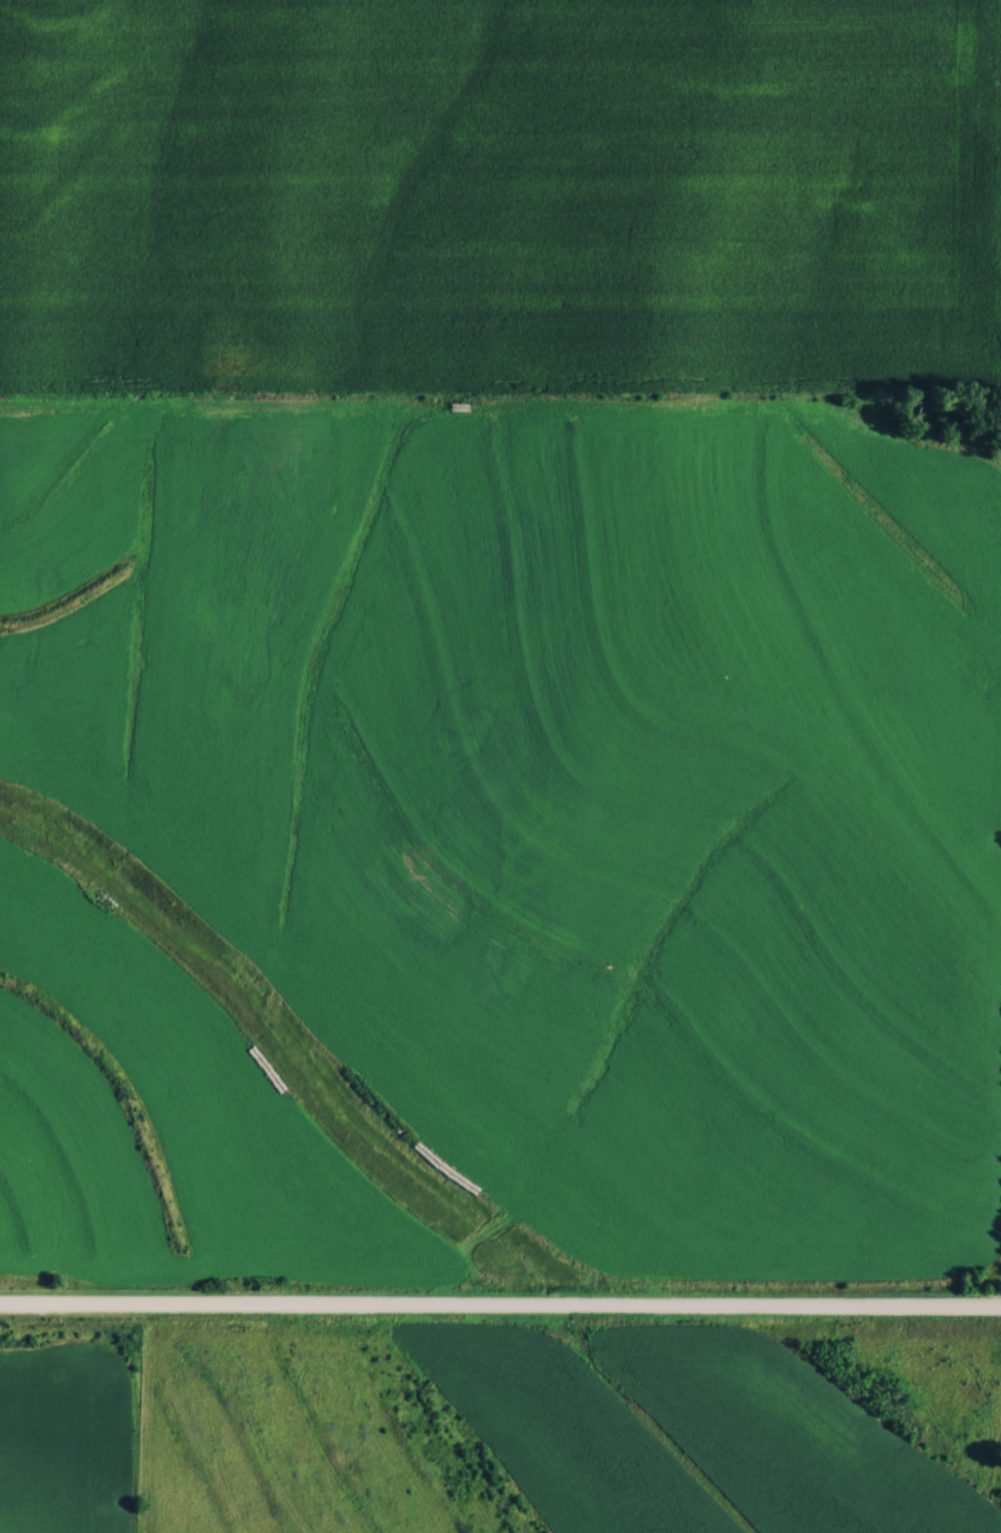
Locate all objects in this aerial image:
road: (500, 1308)

